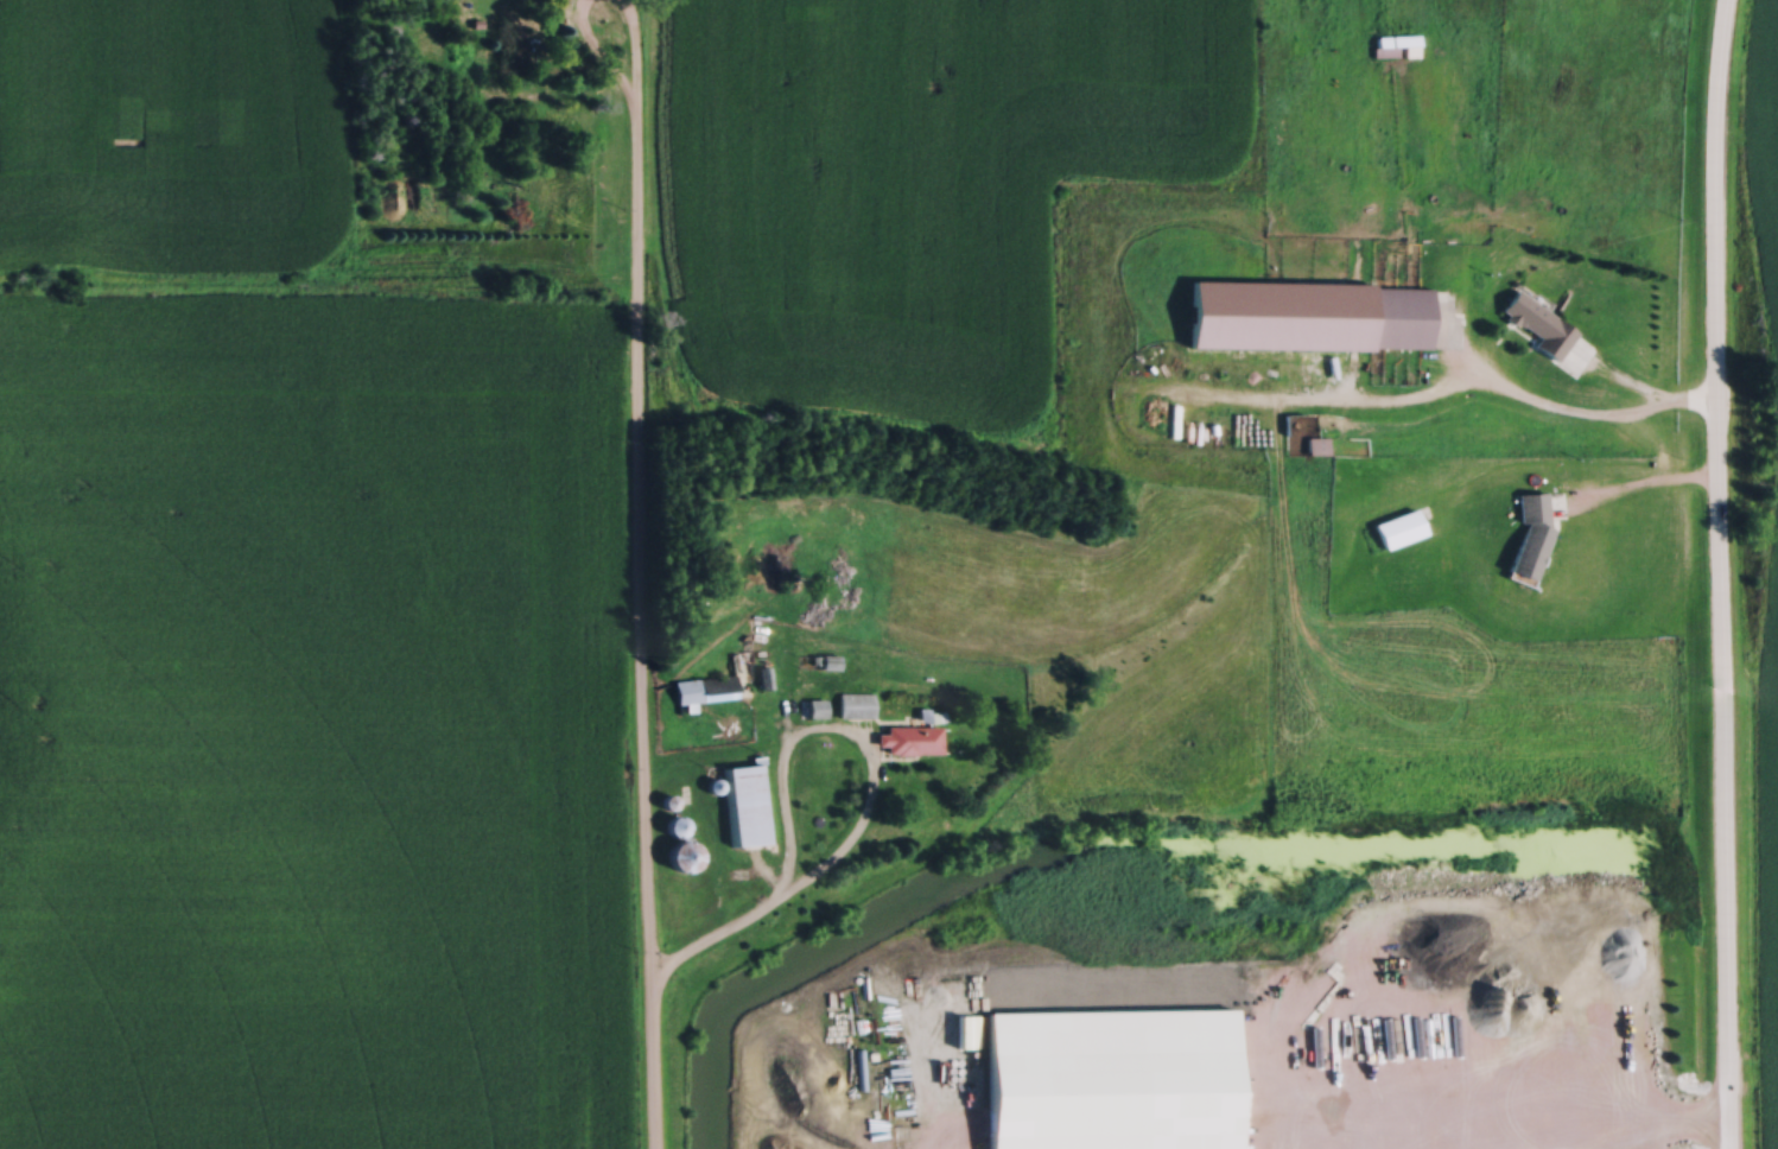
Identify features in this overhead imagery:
building: (1395, 36)
building: (1399, 313)
building: (1536, 319)
building: (1069, 358)
road: (1580, 414)
building: (1316, 440)
building: (1401, 525)
building: (1530, 534)
road: (641, 573)
road: (1721, 573)
building: (828, 658)
building: (705, 685)
building: (855, 700)
building: (910, 736)
road: (865, 743)
building: (747, 801)
building: (684, 851)
road: (724, 935)
road: (1585, 1124)

